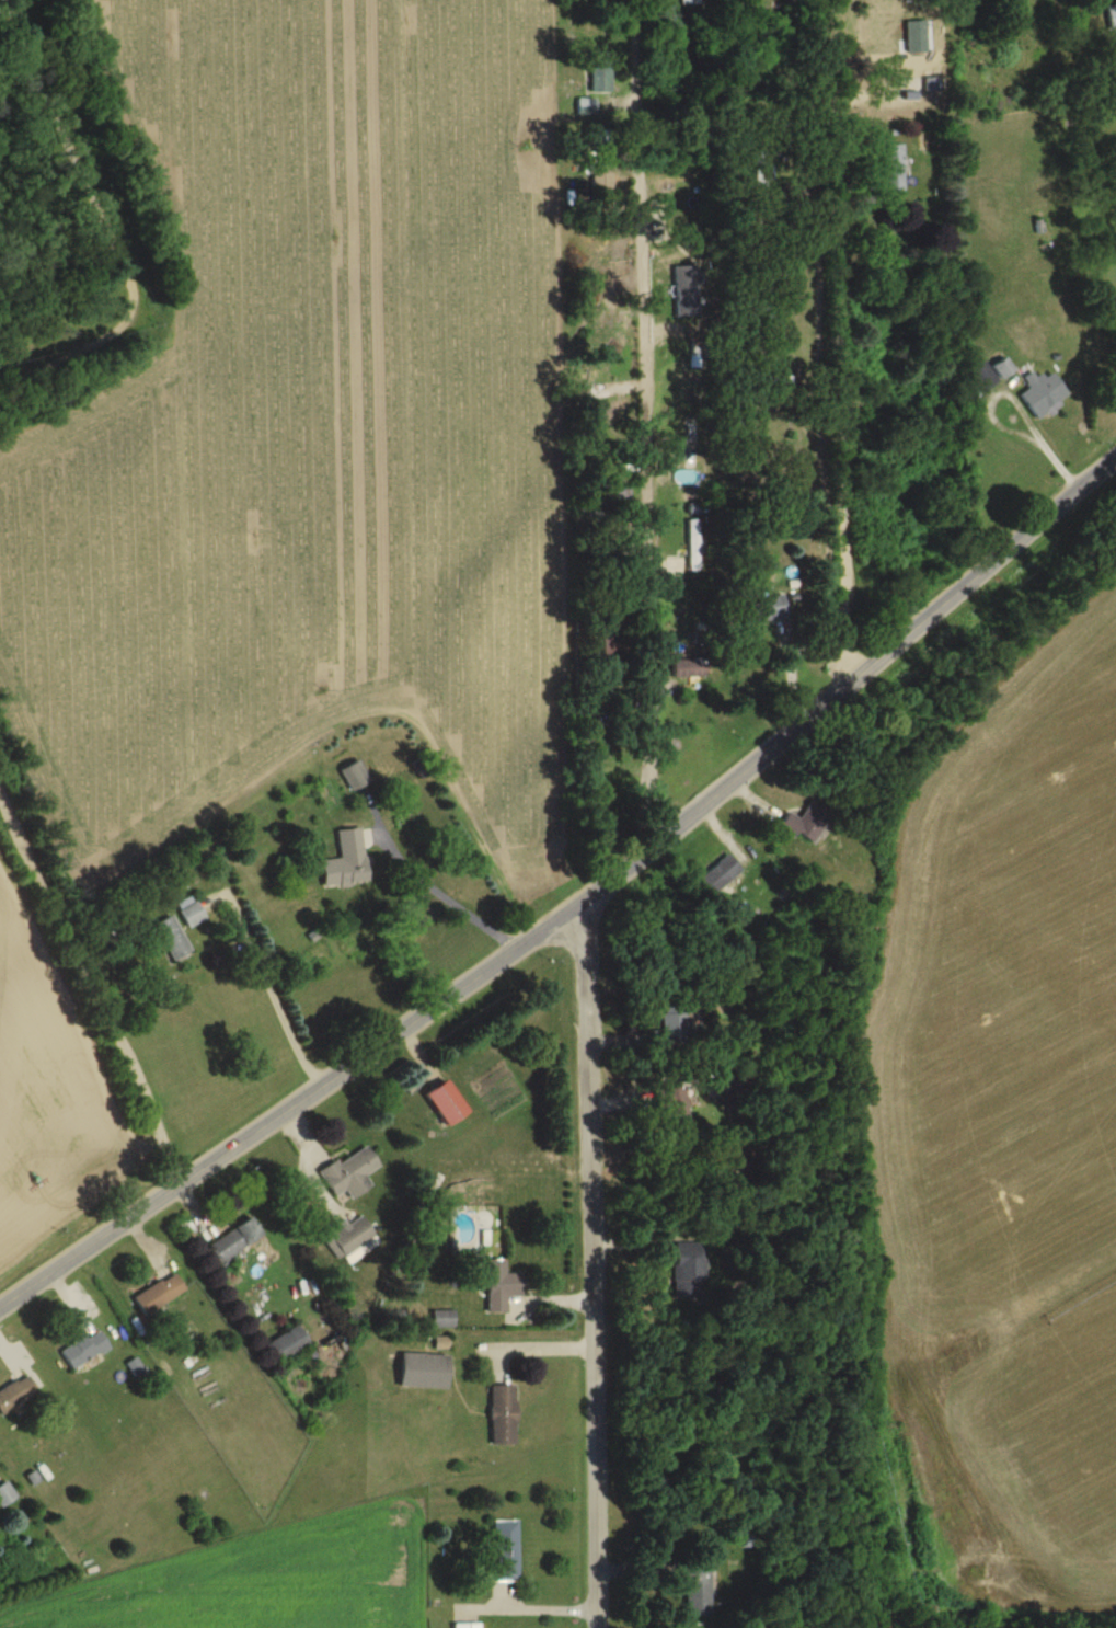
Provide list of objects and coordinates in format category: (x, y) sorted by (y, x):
building: (689, 2)
building: (1112, 16)
building: (1113, 68)
building: (891, 169)
road: (99, 236)
building: (605, 307)
road: (824, 344)
building: (1001, 368)
building: (981, 377)
building: (1042, 393)
road: (646, 422)
building: (618, 493)
building: (693, 531)
building: (764, 610)
building: (607, 646)
building: (686, 667)
building: (354, 776)
building: (806, 823)
building: (345, 861)
building: (720, 874)
road: (430, 887)
road: (574, 904)
building: (191, 915)
building: (296, 919)
building: (171, 939)
road: (89, 991)
road: (268, 991)
building: (669, 1025)
building: (670, 1103)
building: (446, 1104)
building: (350, 1173)
building: (352, 1239)
building: (234, 1240)
road: (591, 1262)
building: (688, 1271)
building: (499, 1287)
building: (159, 1295)
building: (441, 1319)
building: (287, 1345)
building: (83, 1351)
building: (424, 1372)
building: (15, 1394)
building: (502, 1417)
building: (5, 1494)
building: (504, 1552)
building: (697, 1589)
building: (465, 1626)

